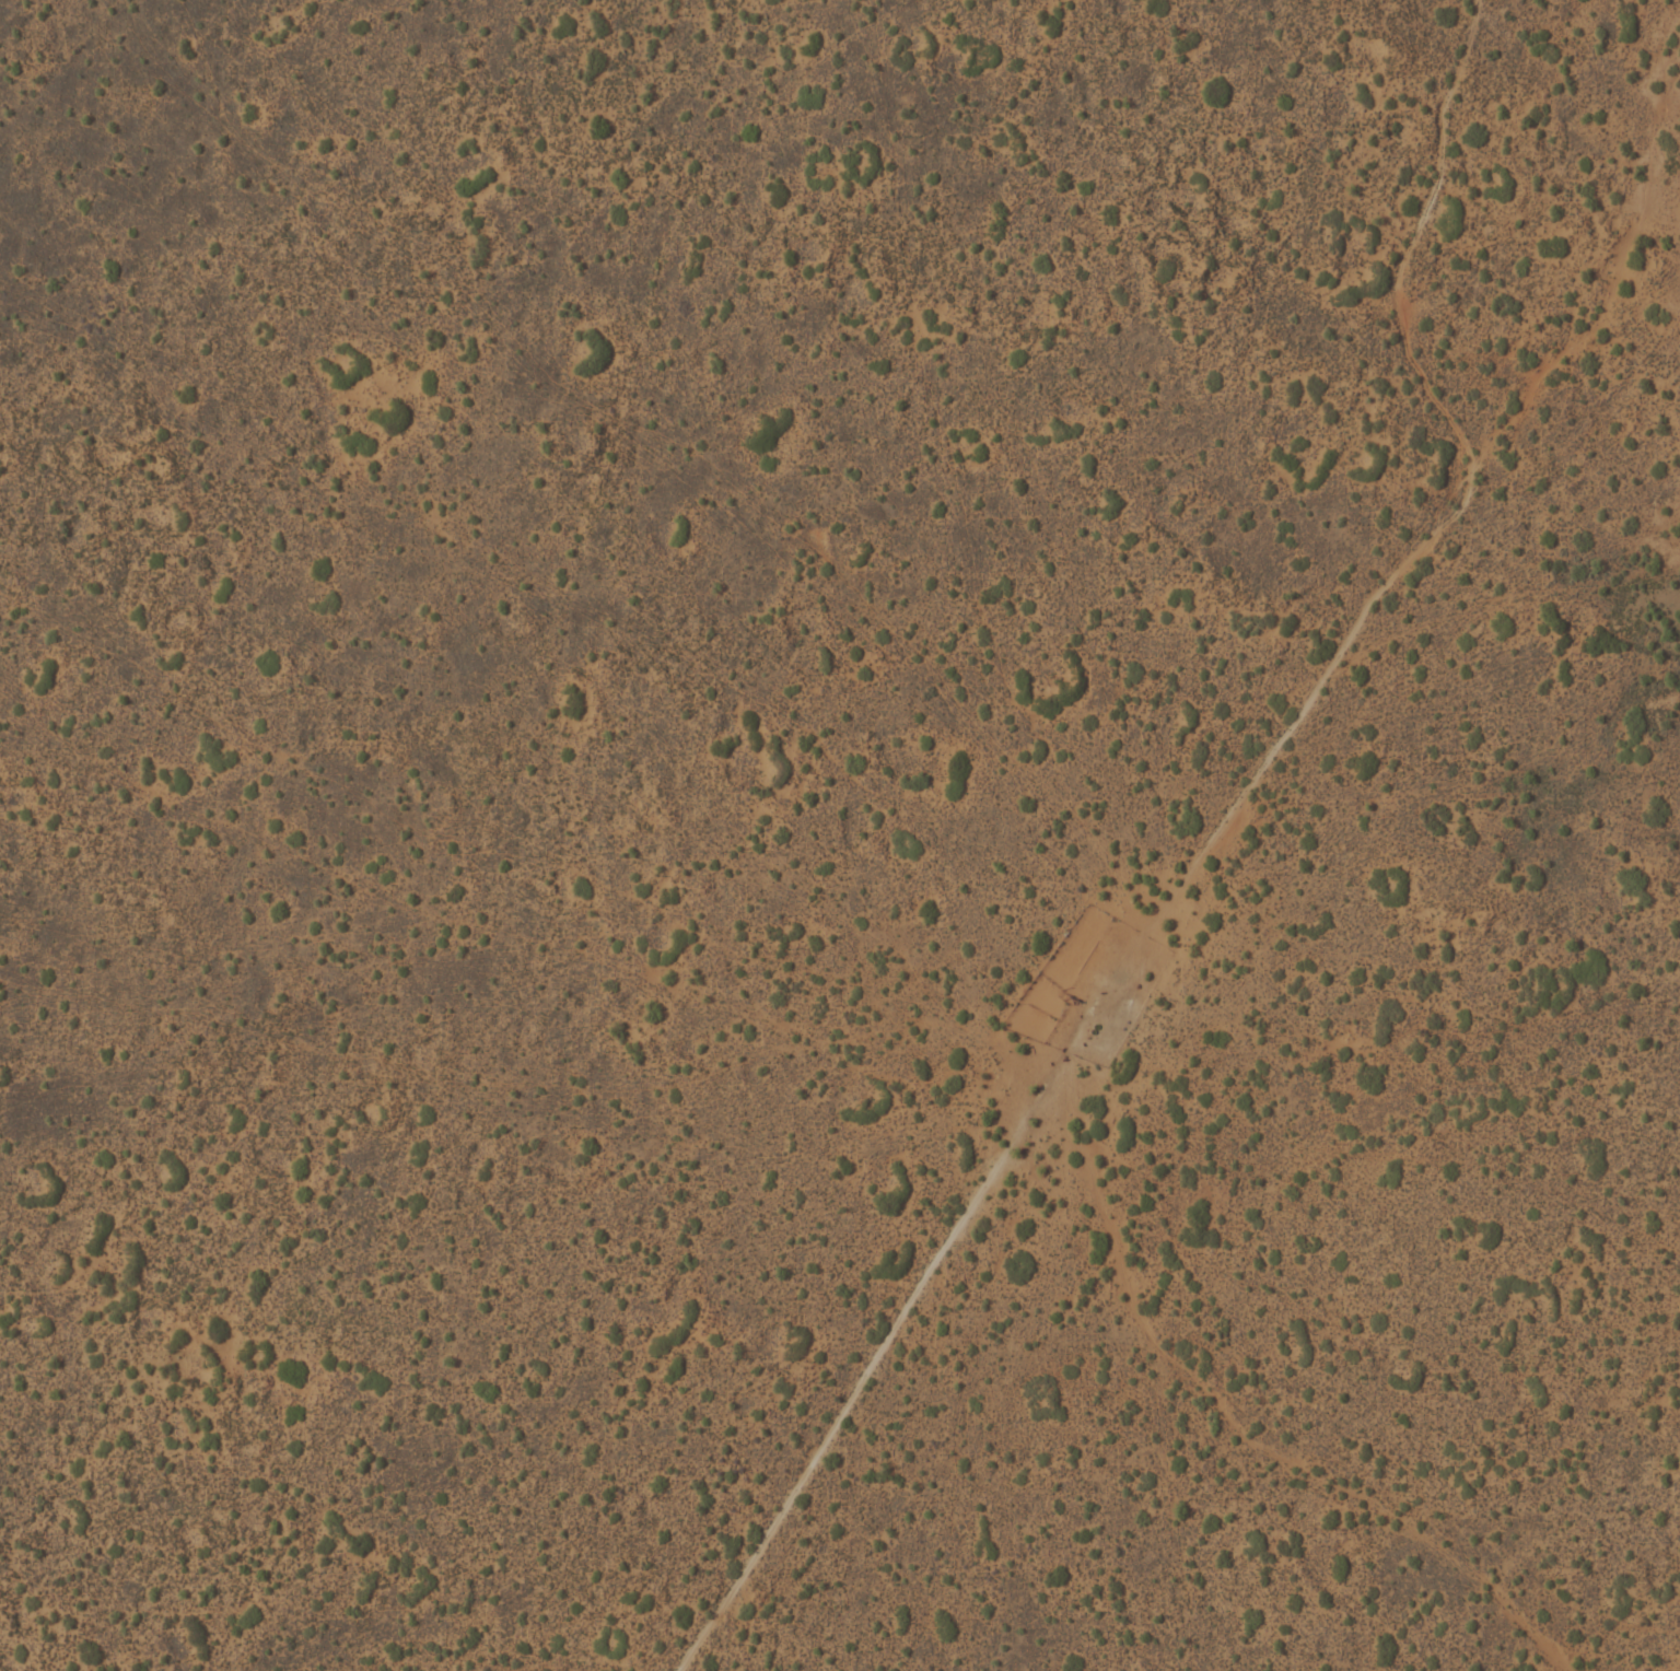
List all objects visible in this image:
road: (1258, 865)

